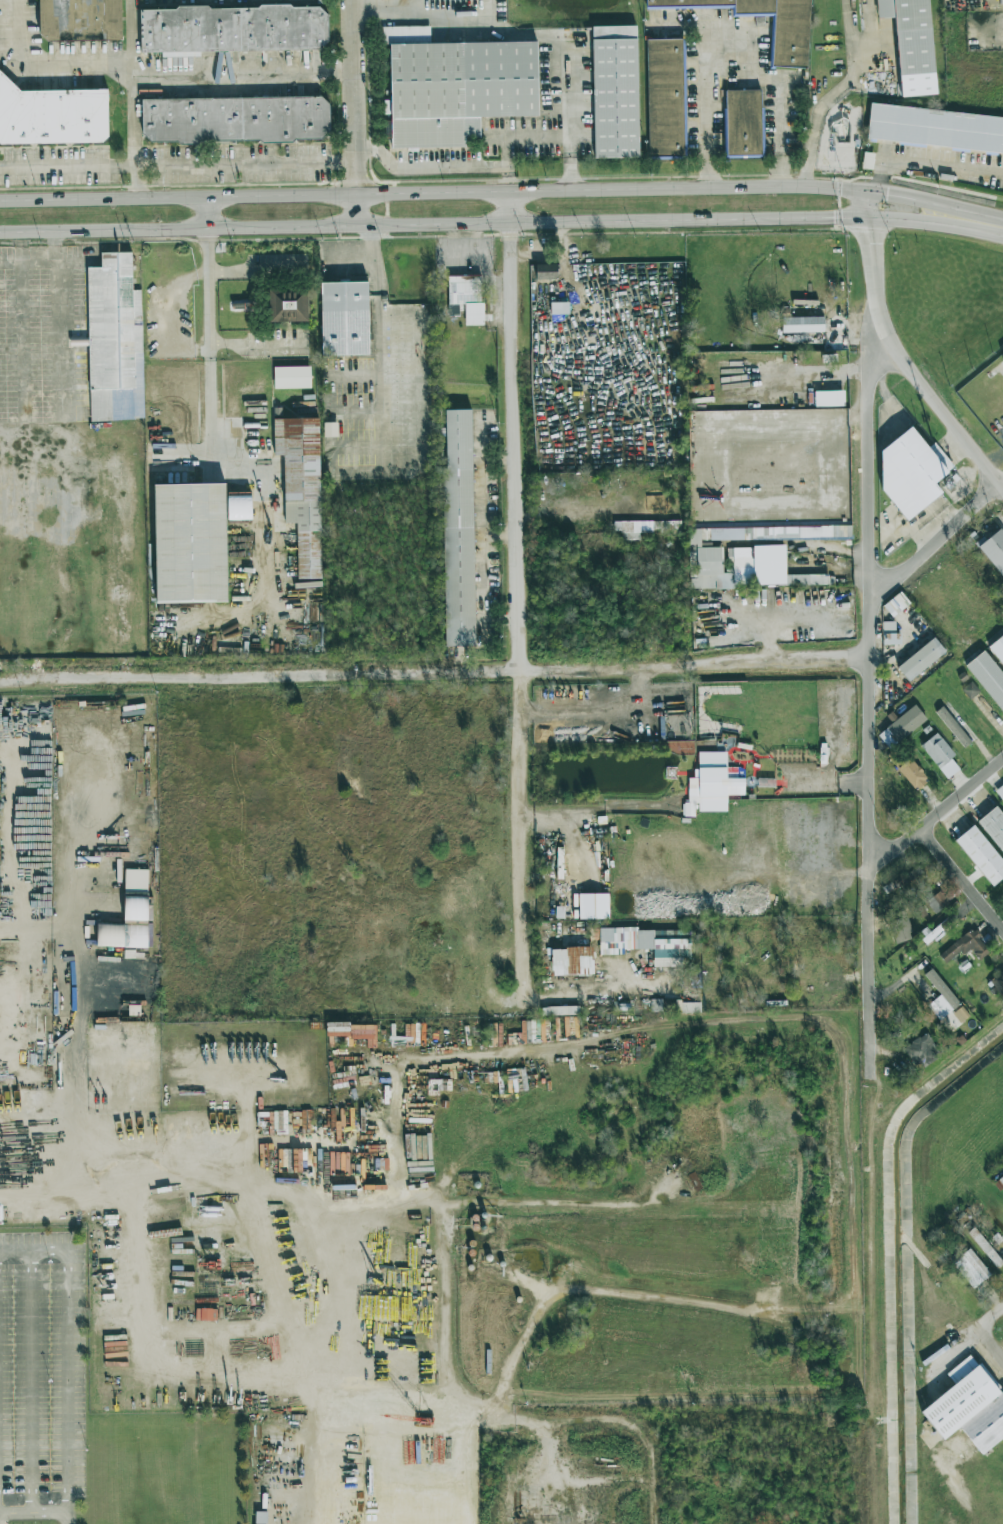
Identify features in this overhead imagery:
building: (1000, 1)
road: (414, 3)
road: (384, 6)
road: (453, 19)
building: (80, 20)
road: (729, 27)
building: (233, 29)
building: (910, 34)
road: (131, 35)
building: (790, 41)
road: (47, 64)
road: (565, 68)
road: (244, 70)
road: (744, 80)
building: (453, 87)
building: (615, 92)
road: (836, 93)
building: (665, 98)
road: (708, 108)
road: (357, 113)
building: (52, 115)
building: (235, 120)
building: (742, 123)
building: (935, 129)
road: (782, 133)
road: (133, 135)
road: (523, 135)
road: (179, 164)
road: (925, 164)
road: (441, 167)
road: (489, 192)
road: (205, 214)
traffic signals: (866, 217)
road: (487, 224)
road: (988, 224)
road: (372, 242)
road: (350, 258)
building: (546, 271)
road: (255, 272)
building: (466, 298)
building: (287, 305)
building: (559, 307)
building: (344, 319)
building: (802, 324)
road: (377, 333)
building: (114, 340)
road: (256, 344)
road: (899, 355)
building: (1002, 355)
building: (1002, 359)
building: (291, 377)
building: (829, 398)
building: (330, 429)
road: (512, 430)
road: (211, 431)
road: (868, 451)
building: (909, 471)
building: (301, 487)
road: (482, 495)
building: (837, 513)
building: (458, 527)
building: (664, 527)
building: (633, 530)
road: (45, 532)
building: (190, 543)
road: (935, 544)
building: (994, 550)
building: (749, 557)
road: (484, 588)
building: (896, 604)
road: (780, 619)
building: (890, 634)
building: (997, 649)
building: (921, 659)
road: (435, 670)
building: (988, 677)
building: (970, 690)
building: (901, 726)
building: (953, 726)
road: (870, 736)
building: (940, 755)
building: (913, 774)
building: (713, 782)
building: (1001, 790)
road: (938, 816)
building: (993, 826)
road: (519, 843)
building: (981, 855)
building: (902, 880)
road: (962, 882)
building: (937, 902)
building: (593, 906)
building: (130, 915)
building: (900, 928)
building: (935, 932)
building: (644, 945)
building: (966, 947)
road: (869, 956)
building: (572, 961)
building: (695, 977)
building: (998, 982)
building: (940, 996)
building: (676, 1006)
building: (955, 1018)
building: (921, 1051)
road: (502, 1058)
building: (1001, 1180)
road: (532, 1203)
building: (986, 1248)
road: (446, 1255)
building: (971, 1268)
road: (959, 1341)
road: (991, 1341)
road: (69, 1346)
parking lot: (42, 1371)
road: (30, 1381)
building: (968, 1407)
road: (578, 1422)
road: (652, 1473)
road: (63, 1506)
road: (38, 1511)
road: (2, 1523)

